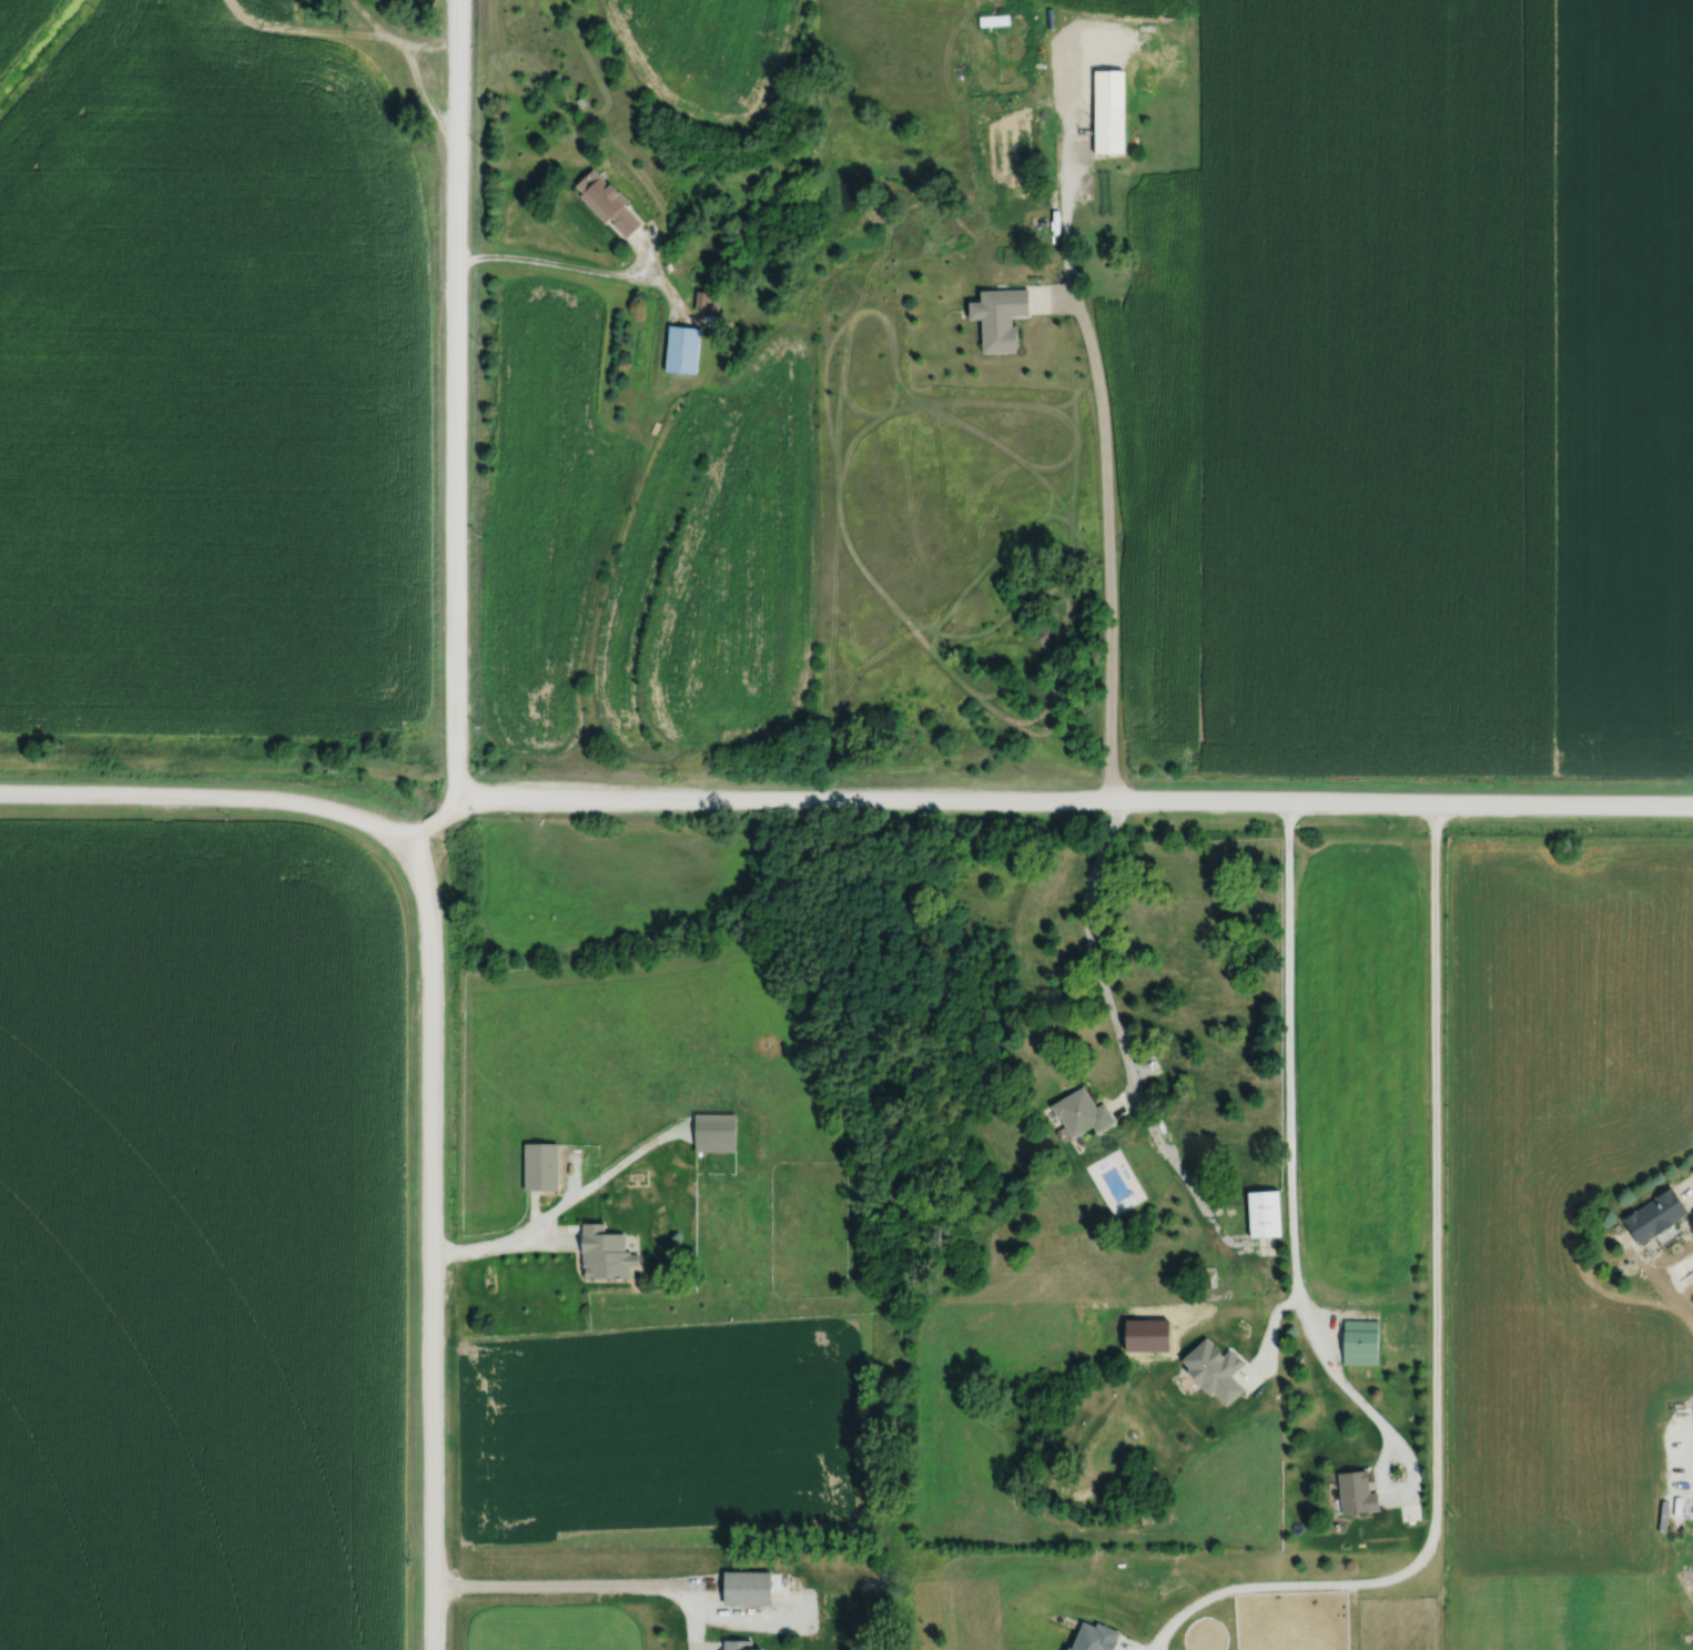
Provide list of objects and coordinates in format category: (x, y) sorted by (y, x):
building: (288, 6)
building: (991, 19)
building: (1147, 73)
building: (1105, 130)
building: (602, 203)
road: (580, 274)
building: (703, 302)
building: (995, 317)
building: (679, 348)
road: (449, 414)
road: (1107, 509)
road: (204, 799)
road: (1071, 806)
road: (427, 826)
road: (1096, 964)
building: (1076, 1113)
building: (718, 1132)
road: (1290, 1137)
building: (545, 1166)
building: (1109, 1190)
building: (1259, 1214)
building: (1652, 1218)
road: (425, 1233)
road: (501, 1246)
building: (610, 1253)
road: (1435, 1334)
building: (1357, 1342)
road: (1411, 1467)
building: (1351, 1495)
building: (751, 1588)
road: (578, 1591)
building: (1087, 1637)
building: (740, 1644)

